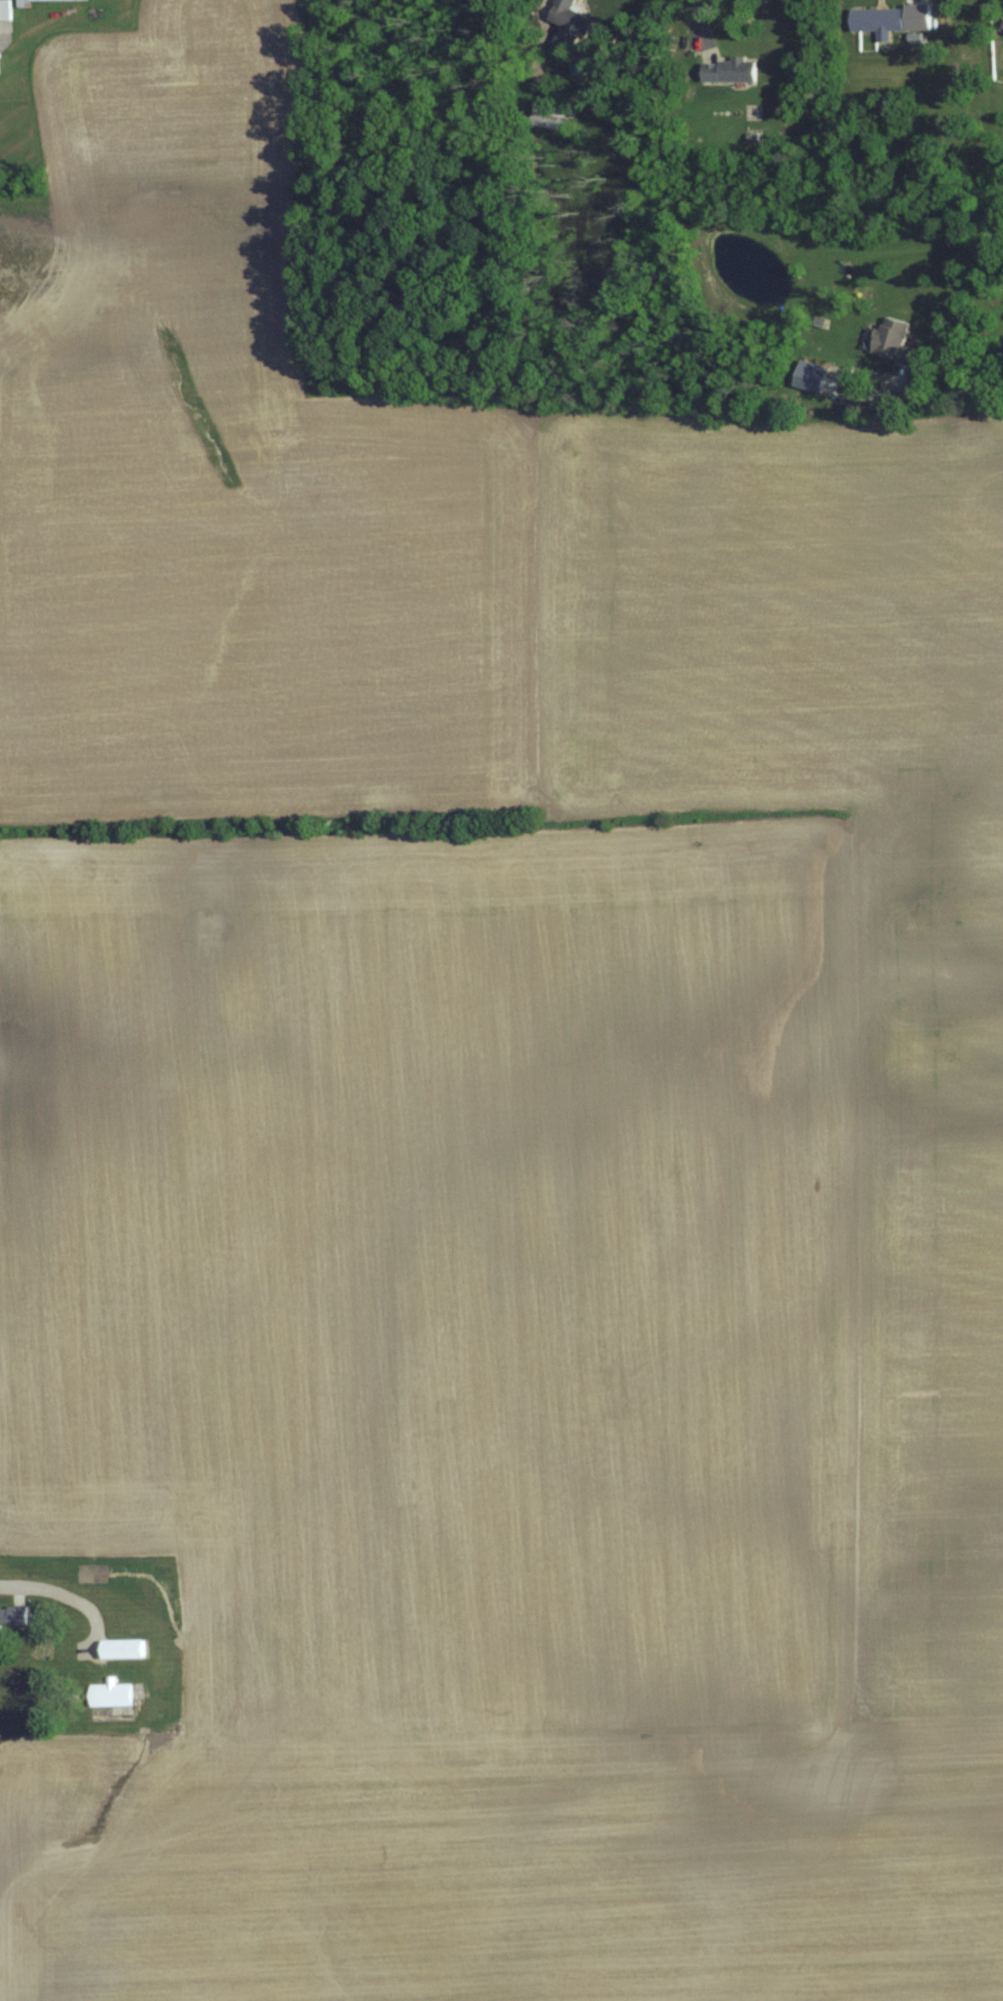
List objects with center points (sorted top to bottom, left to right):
building: (26, 5)
building: (6, 10)
building: (879, 19)
building: (571, 28)
building: (732, 71)
building: (556, 116)
building: (896, 340)
road: (951, 391)
road: (68, 1590)
building: (8, 1620)
building: (125, 1650)
building: (112, 1694)

